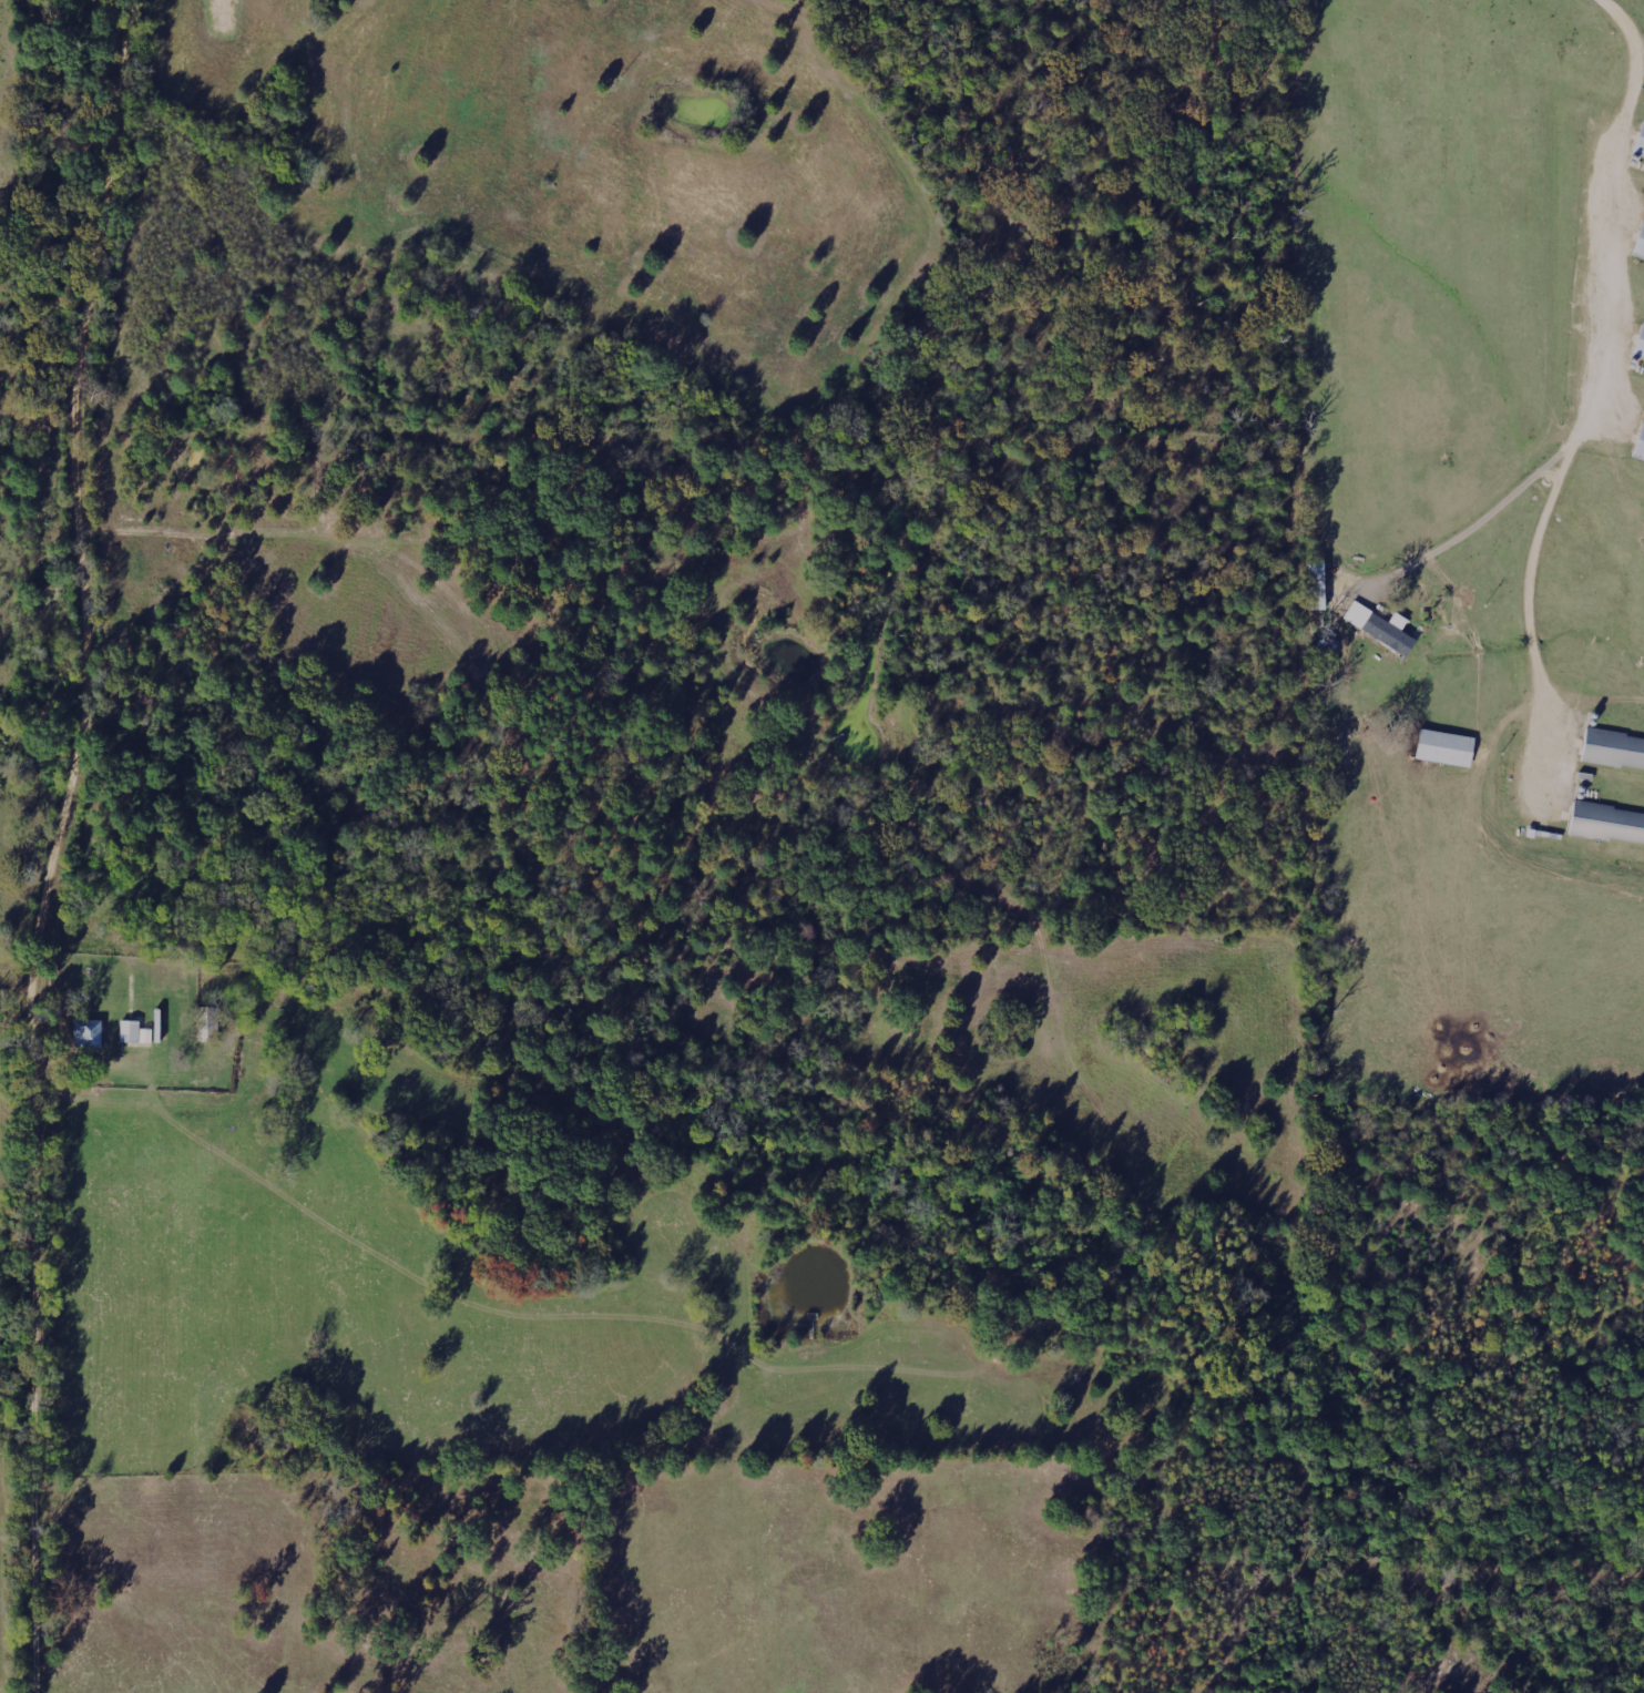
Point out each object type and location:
building: (1638, 147)
building: (1638, 244)
building: (1638, 346)
road: (91, 557)
building: (1380, 628)
building: (1441, 747)
building: (1612, 753)
building: (1605, 823)
building: (137, 1031)
building: (93, 1033)

